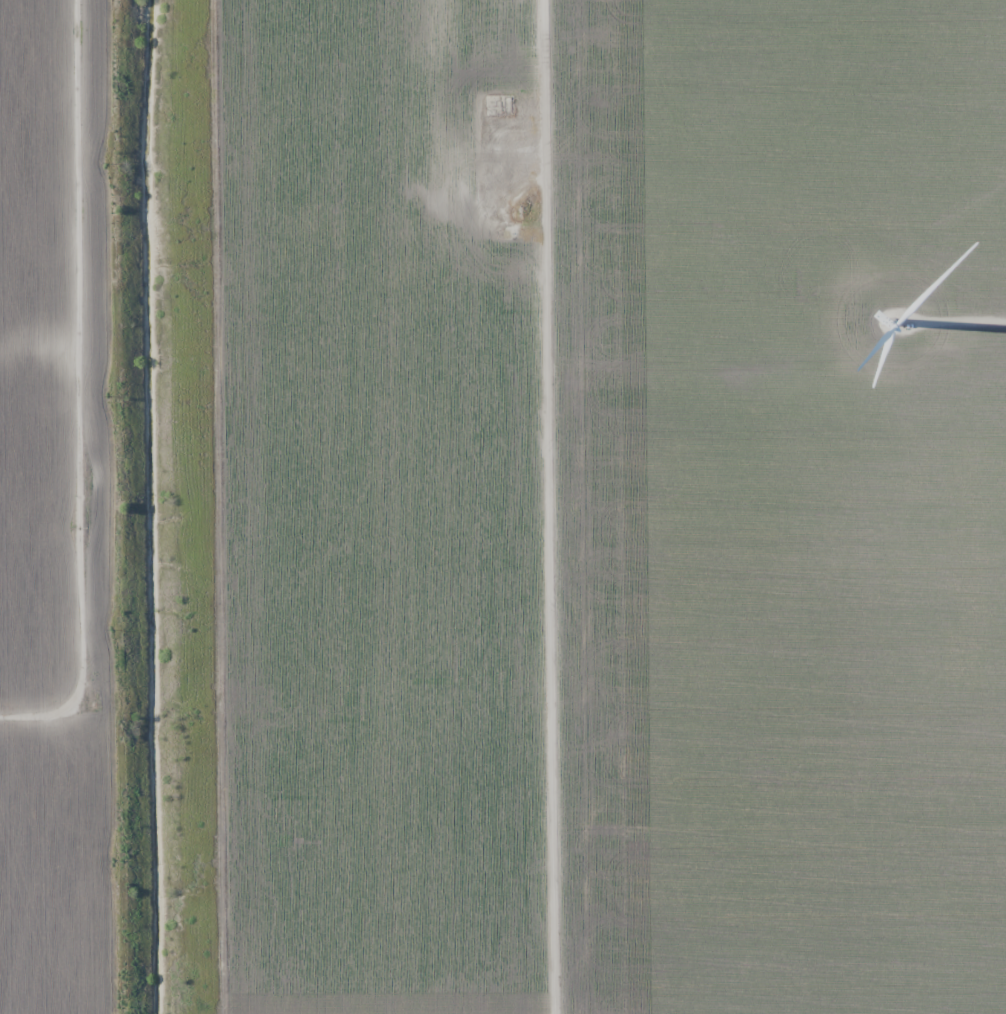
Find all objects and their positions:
wind turbine: (895, 319)
road: (77, 339)
road: (540, 507)
road: (51, 714)

